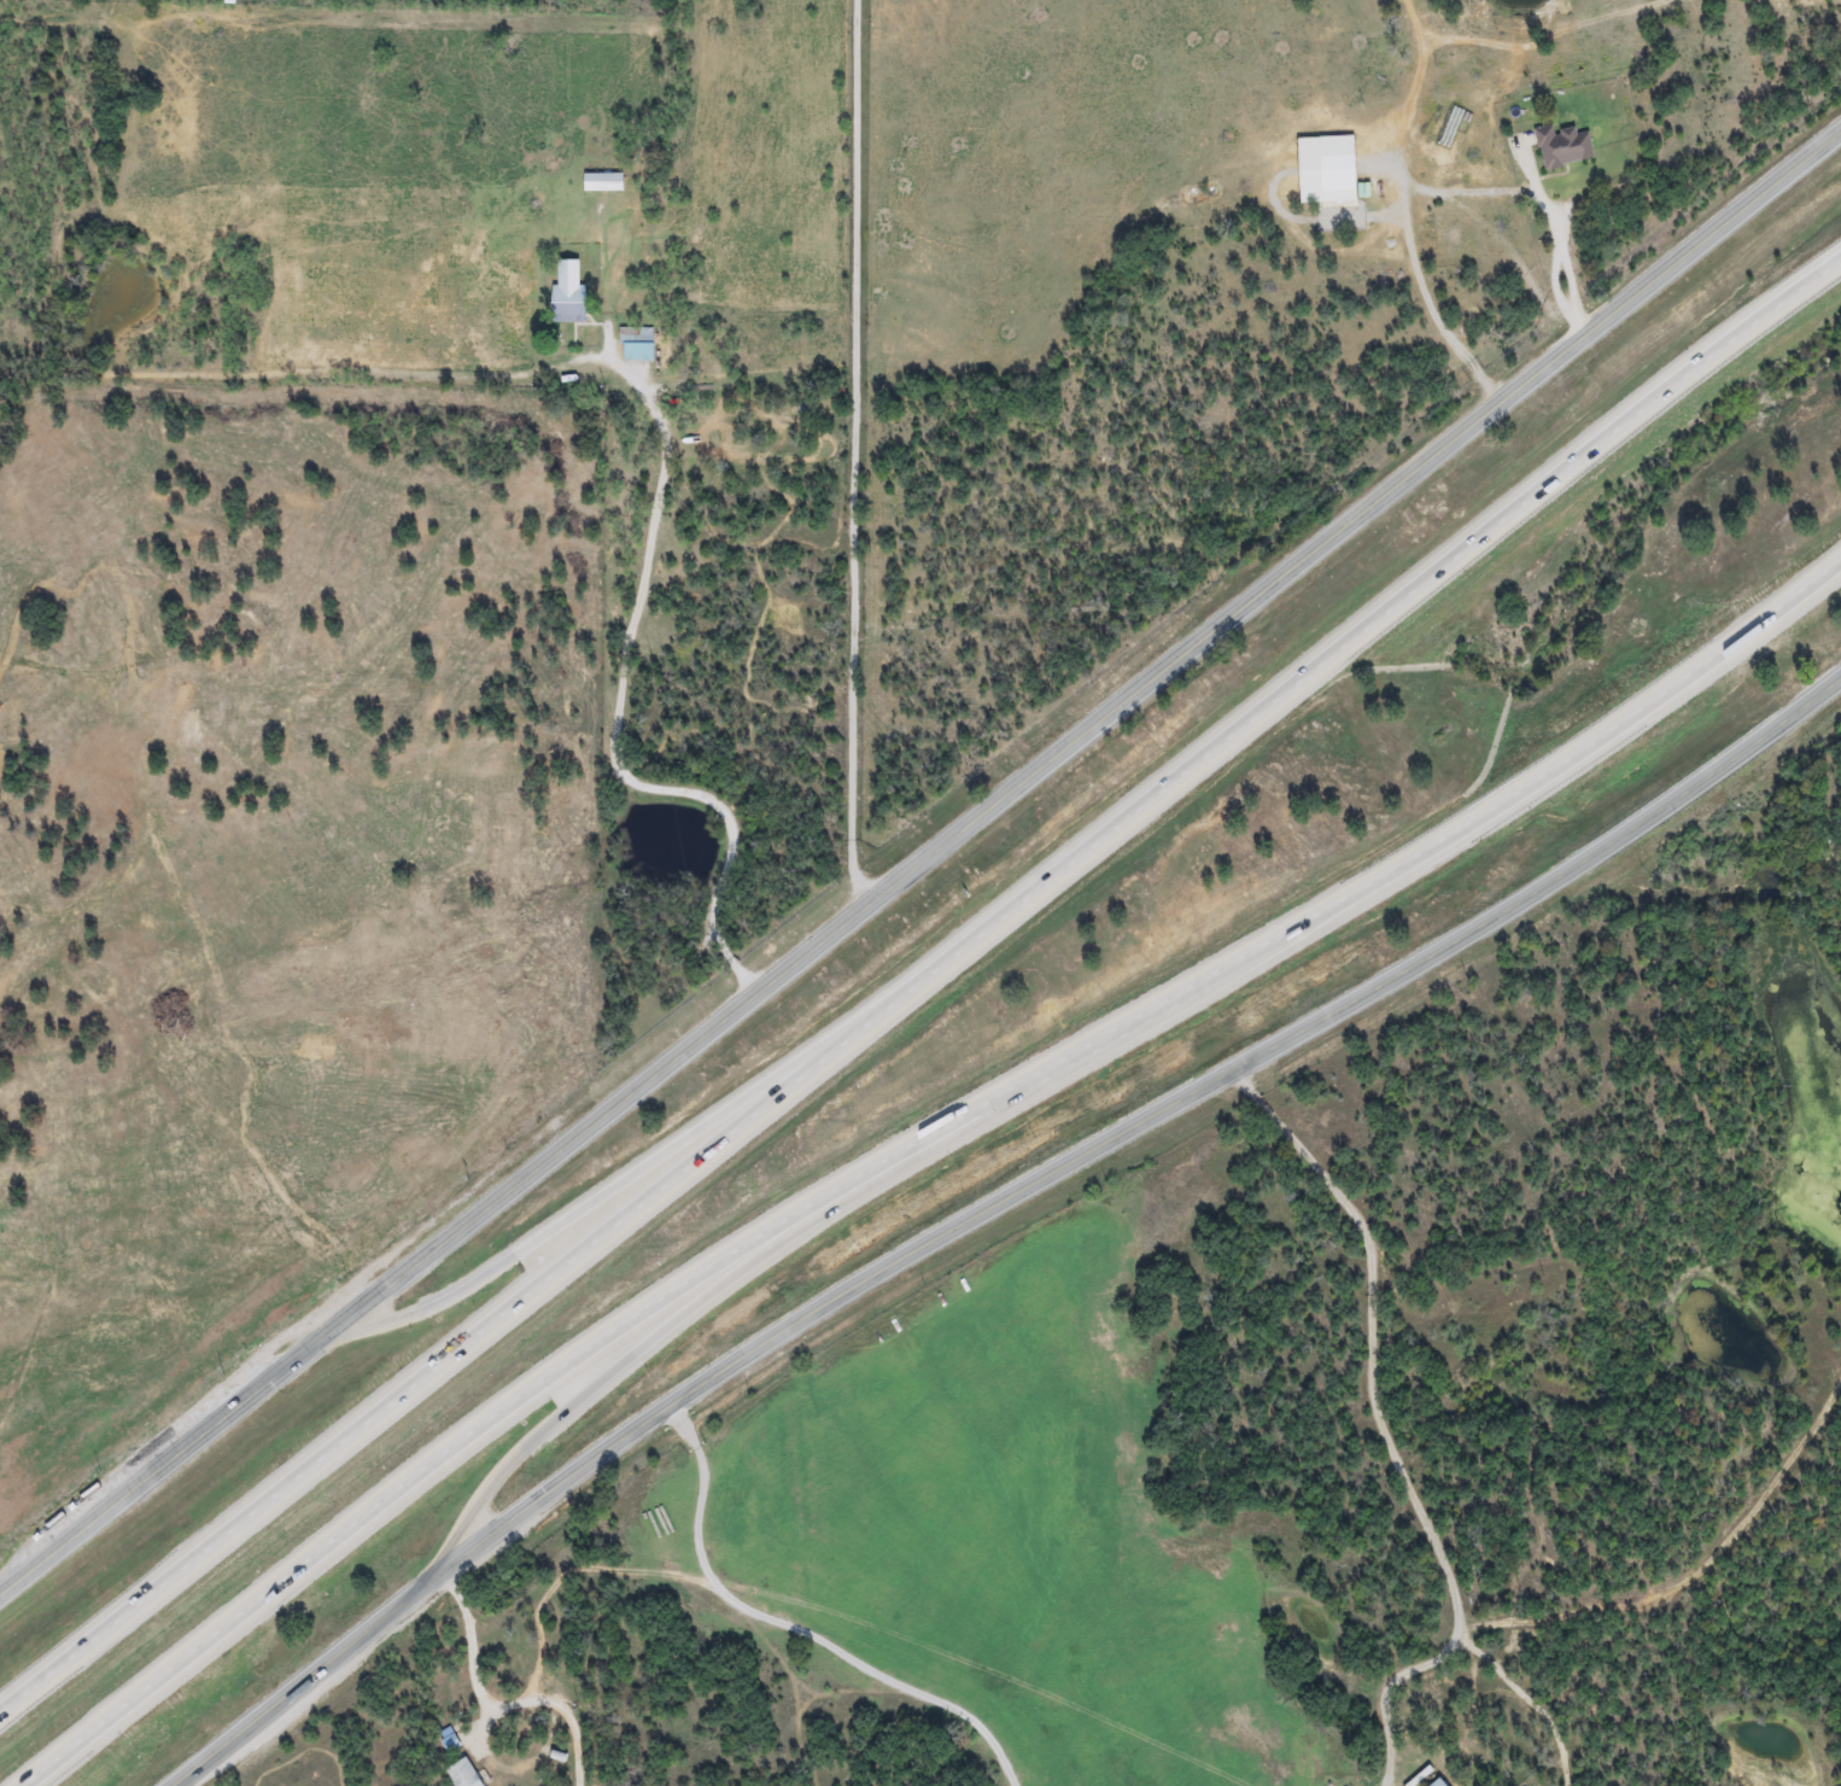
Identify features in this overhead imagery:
road: (1413, 95)
building: (1561, 146)
building: (1336, 173)
building: (602, 181)
road: (1427, 191)
building: (567, 304)
building: (636, 344)
road: (858, 454)
road: (619, 698)
road: (1068, 743)
road: (742, 976)
road: (922, 981)
road: (1128, 1122)
road: (910, 1145)
road: (598, 1196)
road: (680, 1319)
road: (1380, 1430)
road: (147, 1470)
road: (557, 1586)
road: (788, 1628)
road: (472, 1654)
road: (290, 1682)
road: (1389, 1693)
building: (462, 1773)
building: (1436, 1782)

